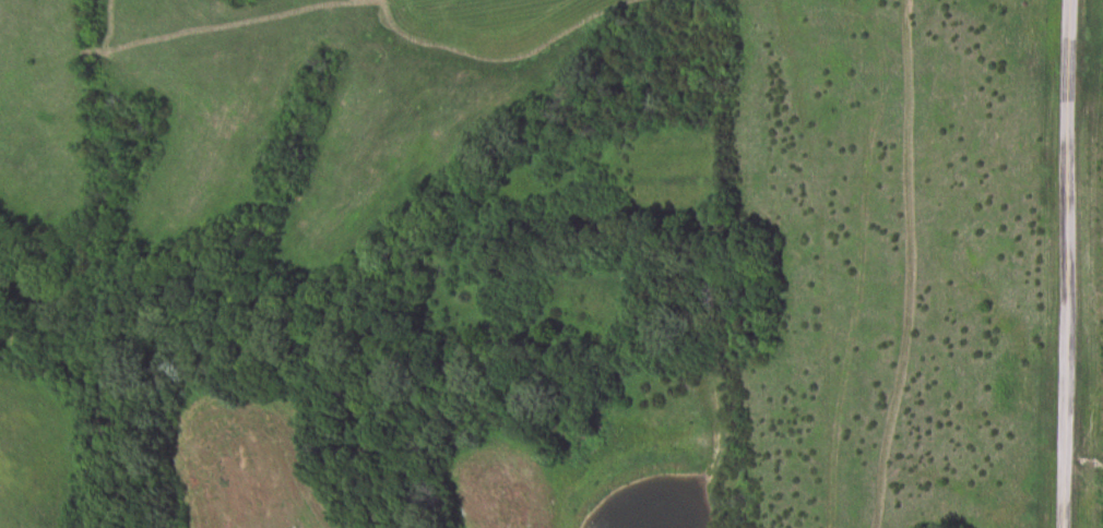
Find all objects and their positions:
road: (1063, 264)

